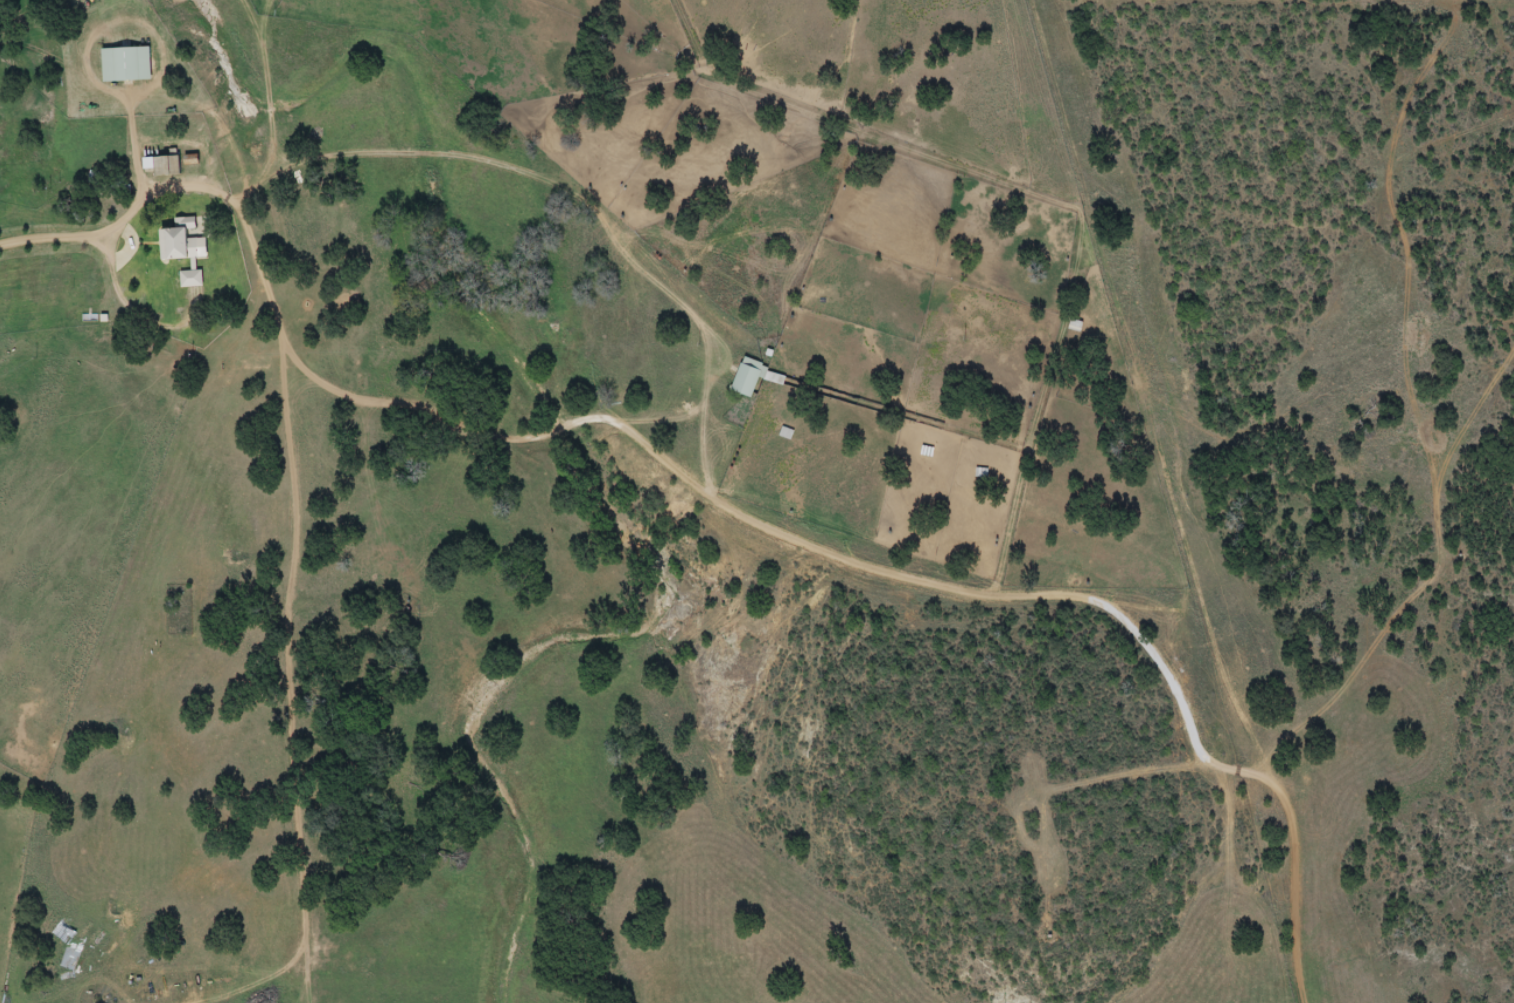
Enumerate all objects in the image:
building: (131, 65)
building: (171, 165)
road: (118, 241)
building: (190, 251)
building: (1072, 326)
building: (751, 378)
road: (307, 477)

